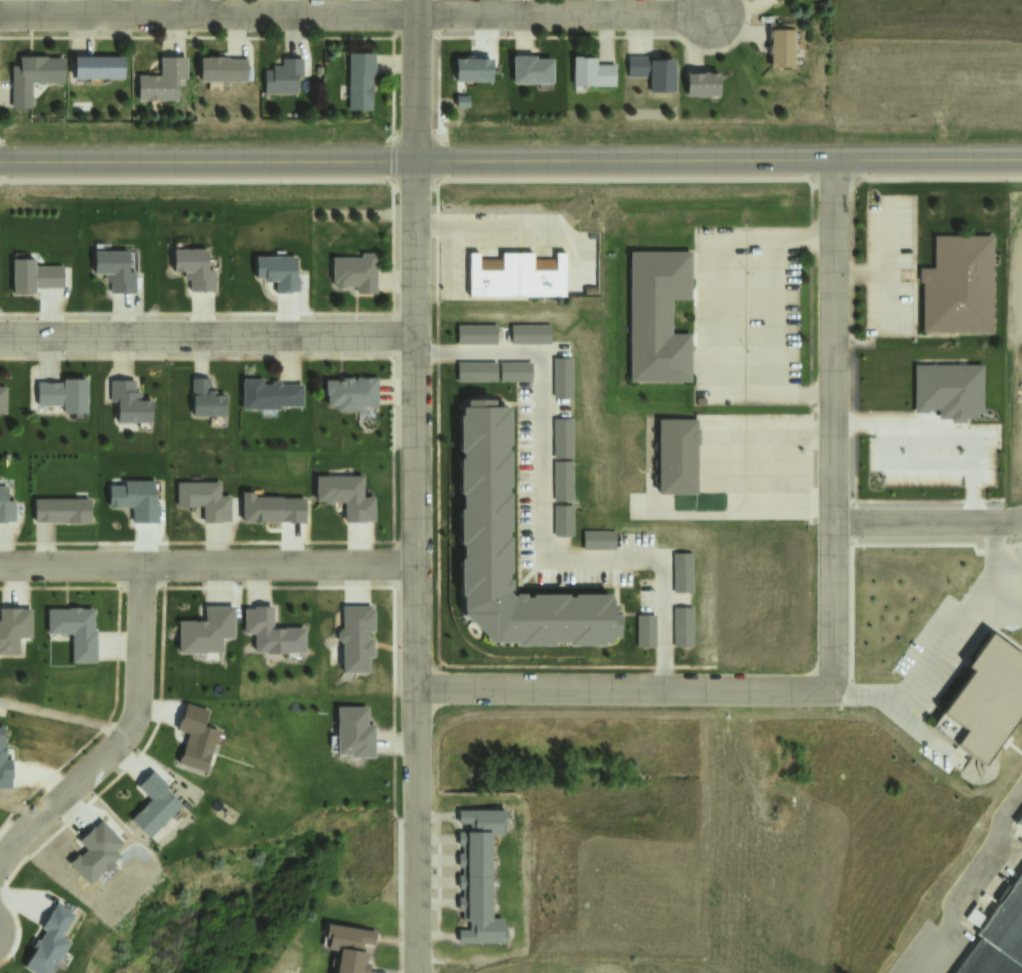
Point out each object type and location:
building: (776, 1)
building: (779, 1)
road: (196, 7)
road: (356, 14)
building: (784, 51)
building: (100, 70)
building: (225, 72)
building: (532, 73)
building: (594, 74)
building: (657, 77)
road: (417, 78)
building: (287, 79)
building: (33, 80)
building: (168, 84)
building: (361, 85)
building: (705, 86)
road: (510, 157)
road: (511, 188)
building: (195, 271)
building: (354, 271)
building: (116, 273)
building: (278, 273)
building: (36, 280)
building: (518, 280)
building: (960, 291)
parking lot: (751, 306)
building: (661, 319)
road: (207, 332)
building: (478, 336)
building: (533, 338)
building: (479, 374)
building: (516, 374)
building: (566, 380)
building: (350, 392)
building: (63, 394)
building: (268, 394)
building: (204, 397)
building: (2, 399)
building: (127, 402)
road: (833, 421)
building: (567, 440)
building: (676, 454)
parking lot: (525, 477)
building: (566, 484)
building: (347, 499)
building: (206, 503)
building: (5, 506)
building: (60, 509)
building: (274, 513)
road: (927, 522)
building: (565, 523)
building: (601, 541)
building: (508, 547)
road: (417, 565)
road: (208, 566)
building: (686, 577)
building: (13, 627)
parking lot: (962, 627)
building: (206, 628)
building: (685, 629)
building: (74, 630)
building: (270, 630)
building: (648, 633)
building: (358, 641)
road: (625, 688)
building: (986, 702)
building: (354, 731)
road: (124, 739)
building: (196, 740)
building: (5, 769)
building: (155, 805)
building: (1020, 823)
building: (478, 875)
road: (965, 877)
building: (999, 939)
building: (52, 942)
building: (347, 946)

